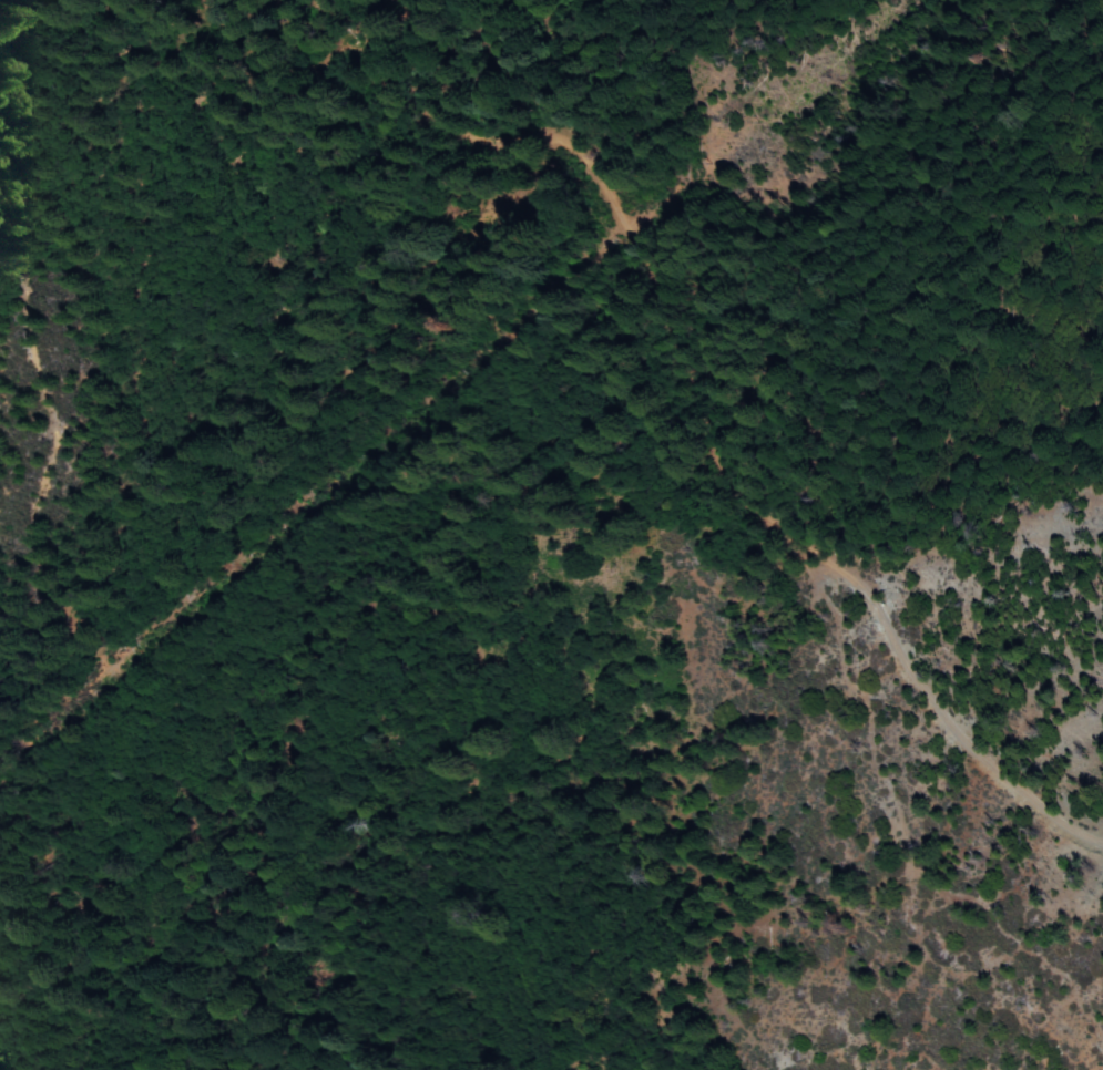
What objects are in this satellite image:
road: (196, 17)
road: (501, 68)
road: (695, 405)

